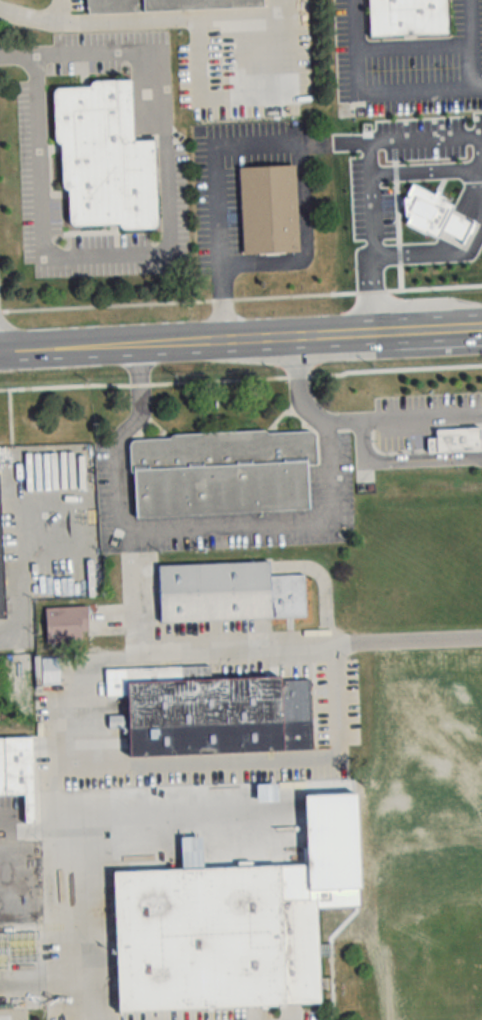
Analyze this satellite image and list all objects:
building: (166, 5)
road: (38, 16)
road: (182, 17)
building: (405, 17)
road: (473, 42)
road: (415, 43)
road: (18, 52)
road: (478, 84)
road: (371, 90)
road: (261, 143)
building: (102, 160)
road: (437, 170)
road: (364, 179)
road: (481, 181)
building: (270, 212)
road: (158, 251)
road: (432, 257)
road: (426, 333)
road: (258, 342)
road: (7, 345)
road: (96, 350)
road: (23, 354)
road: (403, 417)
building: (456, 440)
building: (220, 470)
road: (223, 523)
building: (2, 568)
building: (227, 592)
road: (127, 611)
building: (64, 625)
road: (236, 655)
building: (56, 671)
building: (217, 715)
road: (247, 752)
building: (17, 765)
road: (59, 869)
building: (215, 937)
road: (33, 982)
road: (69, 1000)

